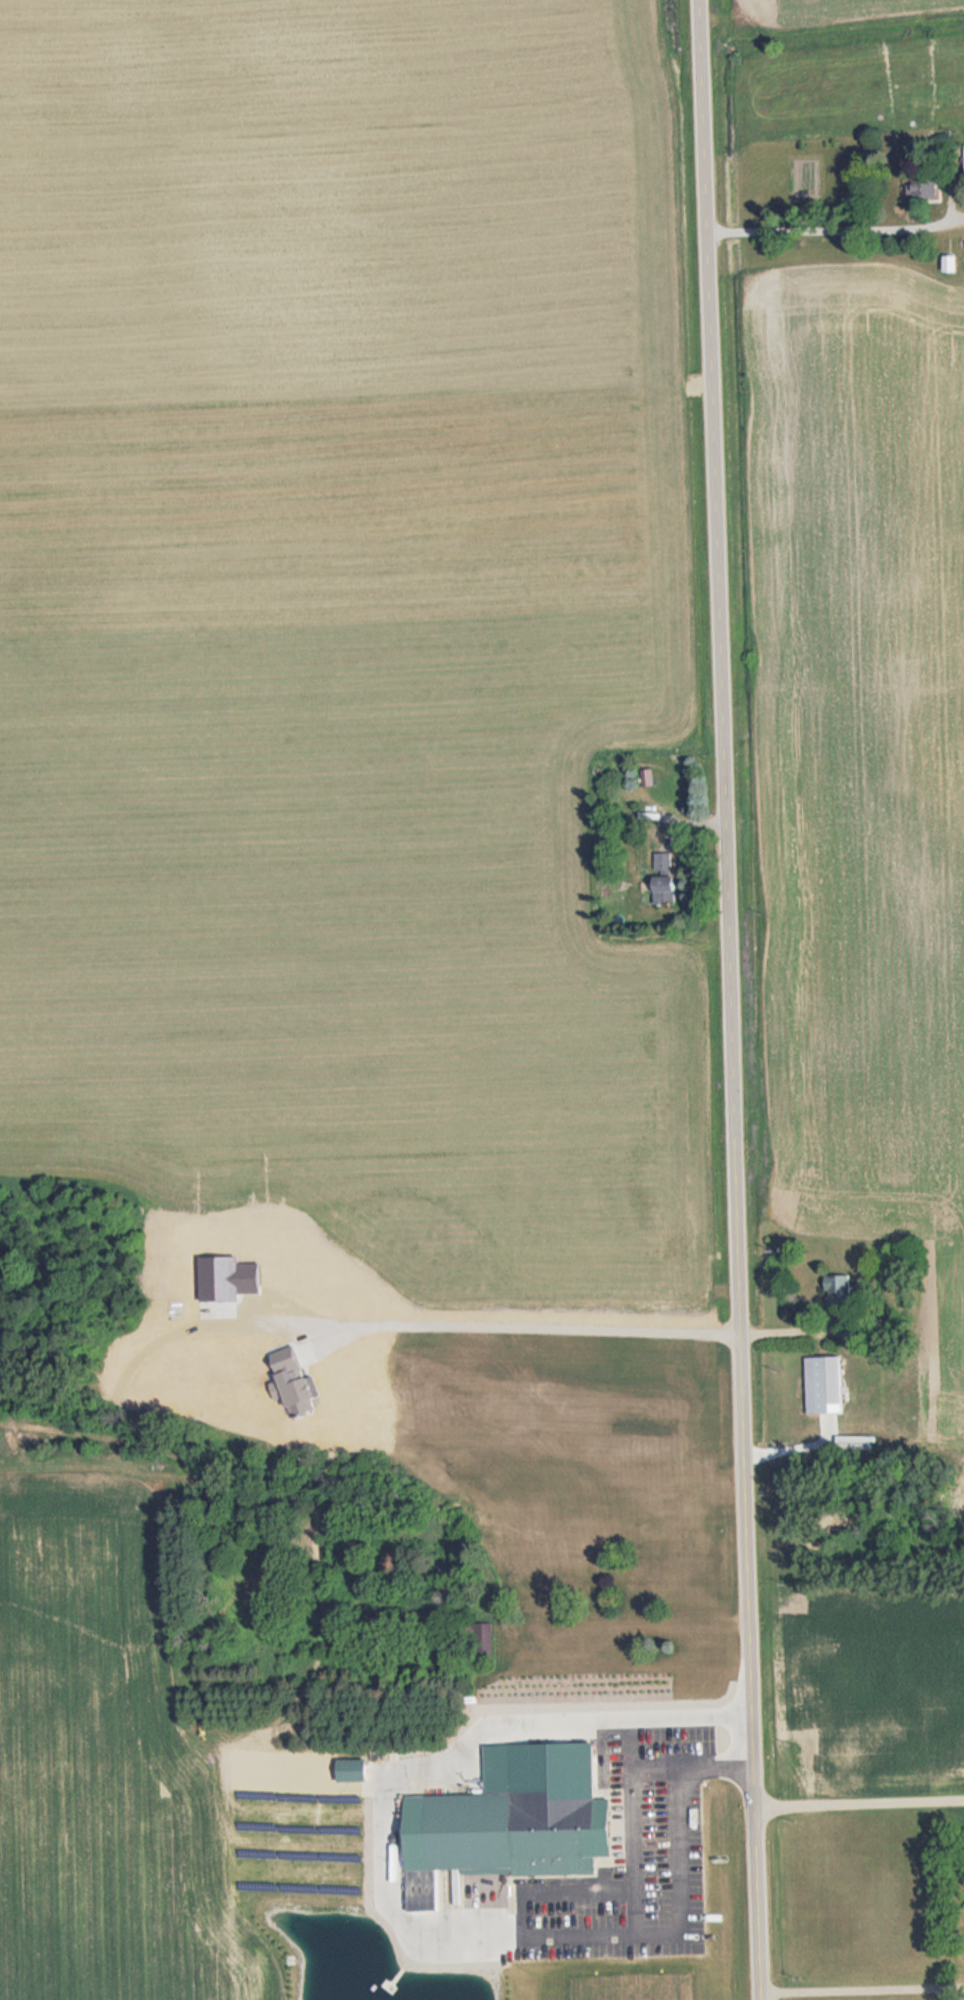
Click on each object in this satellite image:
building: (920, 184)
building: (948, 262)
building: (662, 877)
road: (729, 999)
building: (836, 1287)
building: (821, 1385)
building: (561, 1555)
building: (479, 1639)
building: (648, 1688)
building: (675, 1689)
road: (859, 1805)
building: (510, 1831)

